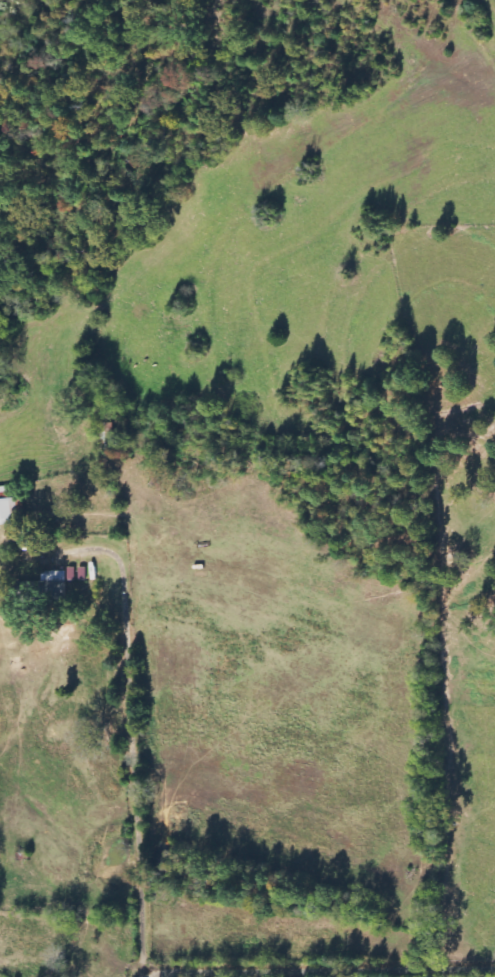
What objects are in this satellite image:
building: (8, 508)
building: (44, 591)
road: (134, 771)
road: (344, 973)

